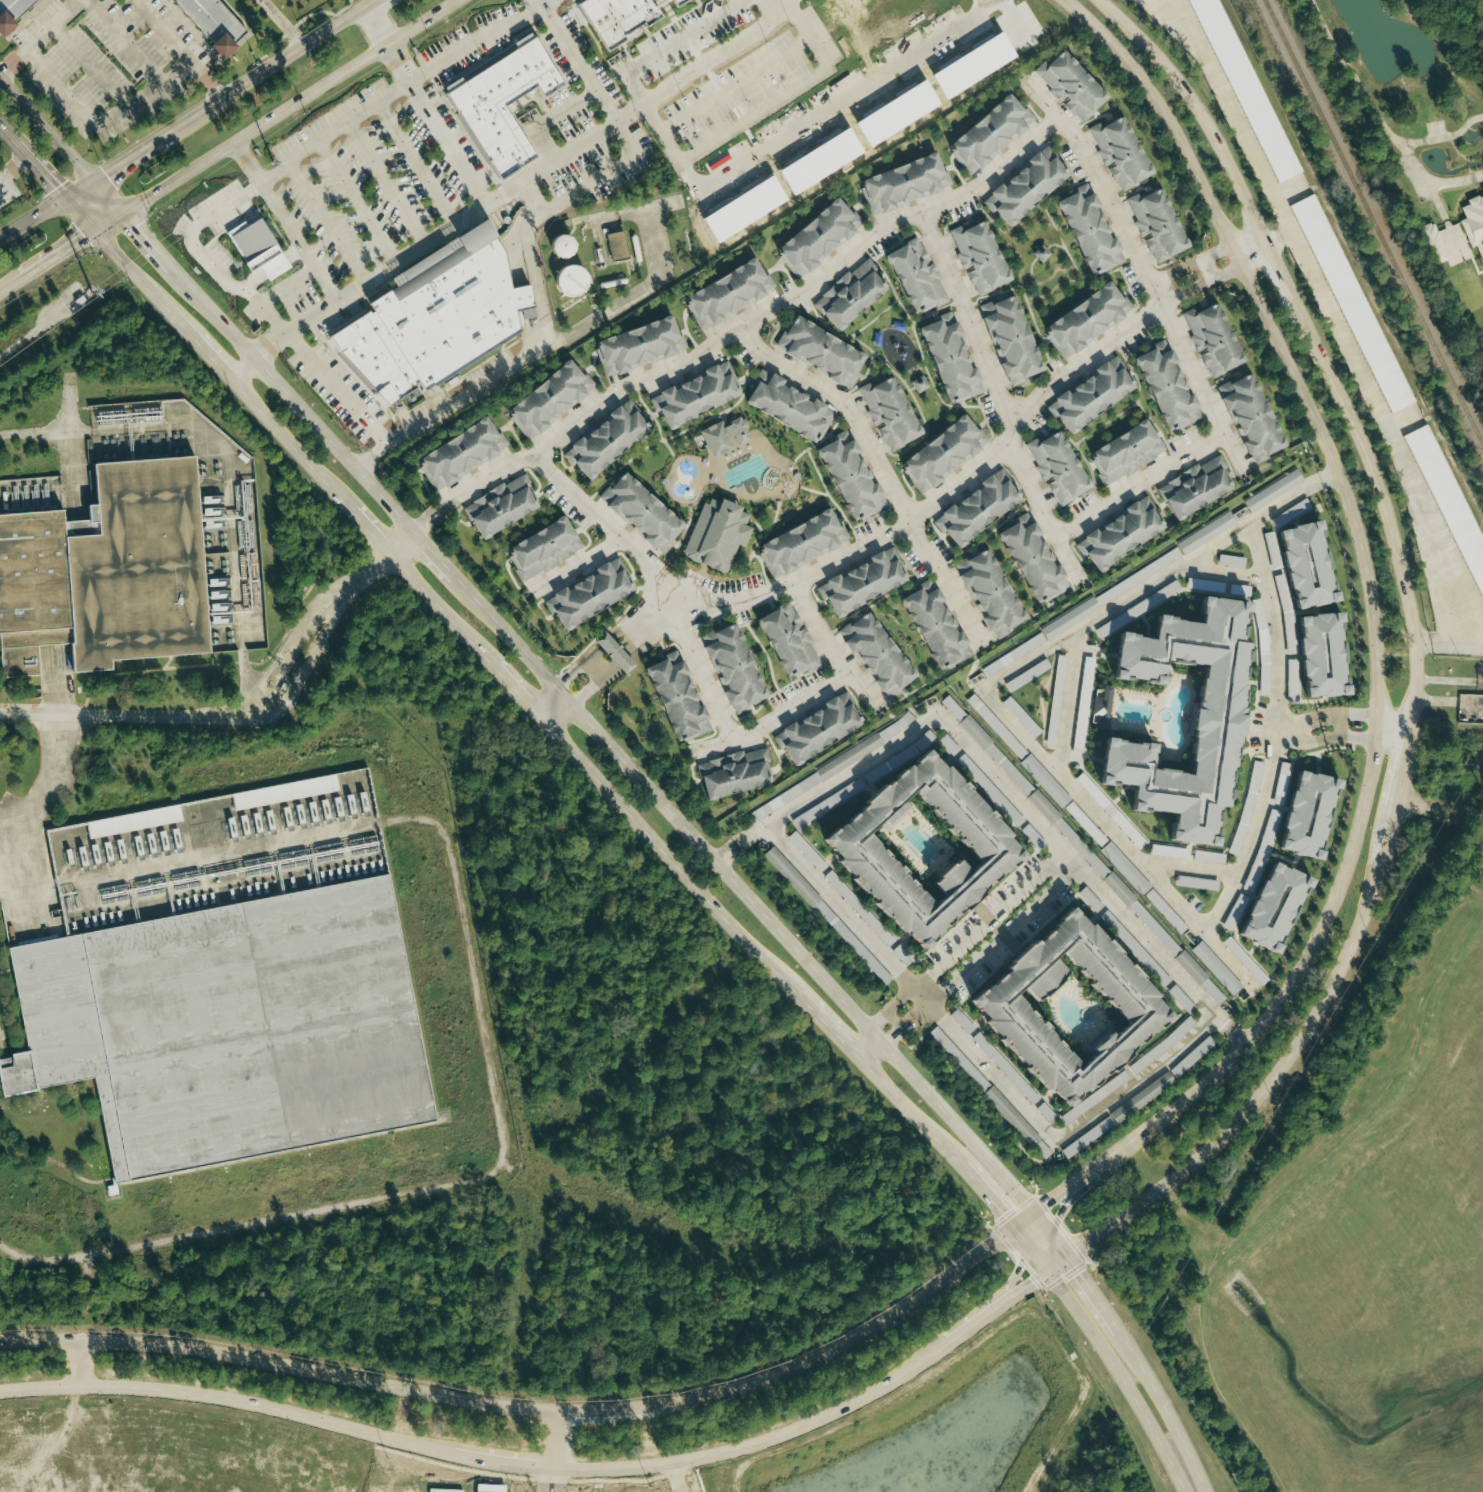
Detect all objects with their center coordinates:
building: (673, 1)
road: (370, 2)
building: (677, 2)
road: (775, 5)
power tower: (516, 7)
building: (10, 8)
building: (209, 18)
building: (610, 19)
road: (377, 22)
road: (38, 35)
road: (669, 43)
road: (181, 47)
road: (579, 60)
road: (264, 70)
road: (737, 81)
building: (1067, 83)
road: (401, 90)
road: (1365, 99)
building: (498, 102)
road: (286, 105)
road: (764, 108)
road: (1234, 112)
road: (439, 121)
road: (101, 128)
road: (45, 131)
building: (987, 132)
road: (7, 137)
building: (1119, 150)
road: (126, 157)
road: (248, 161)
power tower: (272, 163)
road: (419, 164)
road: (38, 172)
traffic signals: (104, 172)
road: (596, 179)
building: (899, 182)
road: (388, 184)
road: (974, 186)
building: (1024, 187)
road: (0, 188)
traffic signals: (53, 188)
road: (77, 189)
building: (1482, 191)
road: (506, 193)
road: (359, 203)
road: (77, 215)
road: (31, 217)
building: (1473, 221)
road: (106, 222)
road: (328, 222)
railway: (1373, 222)
building: (1153, 223)
traffic signals: (133, 227)
building: (1085, 230)
road: (137, 231)
traffic signals: (85, 237)
building: (812, 237)
building: (245, 241)
road: (300, 241)
building: (616, 245)
road: (57, 254)
road: (204, 256)
building: (977, 258)
road: (1227, 260)
building: (913, 278)
building: (568, 279)
road: (11, 283)
road: (632, 290)
building: (723, 293)
power tower: (89, 294)
building: (849, 296)
building: (1353, 303)
building: (1081, 320)
building: (429, 324)
building: (1209, 338)
building: (1008, 342)
building: (631, 346)
building: (815, 350)
building: (946, 360)
building: (920, 384)
road: (476, 387)
building: (1161, 387)
building: (548, 393)
building: (692, 394)
building: (1087, 394)
building: (785, 406)
building: (885, 413)
building: (1248, 423)
road: (59, 434)
building: (725, 436)
building: (600, 439)
road: (1394, 439)
building: (1124, 450)
building: (458, 451)
road: (369, 454)
building: (936, 454)
road: (880, 464)
building: (1055, 468)
road: (70, 470)
building: (846, 478)
road: (483, 479)
building: (1190, 487)
building: (1274, 491)
building: (1450, 499)
road: (924, 503)
building: (498, 505)
building: (635, 510)
building: (970, 511)
building: (1291, 515)
building: (1207, 533)
building: (711, 534)
building: (1115, 536)
building: (797, 542)
building: (539, 549)
building: (1028, 560)
road: (580, 562)
building: (1296, 562)
road: (1364, 570)
building: (107, 572)
road: (1225, 574)
building: (855, 581)
building: (585, 593)
building: (986, 593)
building: (1070, 618)
road: (1275, 622)
building: (931, 625)
building: (785, 641)
road: (833, 646)
building: (613, 653)
building: (1014, 654)
building: (875, 658)
building: (1309, 659)
building: (730, 670)
building: (1086, 686)
road: (583, 693)
road: (1414, 694)
road: (516, 695)
building: (671, 696)
road: (1065, 700)
building: (954, 708)
building: (1102, 708)
road: (265, 710)
building: (1201, 711)
road: (1360, 715)
road: (1305, 717)
road: (1338, 726)
building: (815, 728)
building: (1052, 730)
road: (1394, 731)
road: (1360, 735)
road: (608, 748)
road: (988, 764)
road: (1055, 769)
building: (1011, 771)
building: (729, 775)
building: (284, 792)
road: (36, 795)
building: (1292, 815)
building: (133, 821)
building: (911, 845)
building: (1120, 862)
road: (1193, 869)
building: (1116, 885)
road: (838, 906)
building: (1261, 909)
road: (988, 919)
road: (997, 927)
road: (1003, 935)
road: (1235, 964)
building: (1217, 968)
building: (1056, 1005)
road: (886, 1011)
road: (895, 1020)
building: (228, 1026)
road: (1229, 1027)
road: (904, 1028)
road: (865, 1052)
road: (491, 1068)
building: (1117, 1116)
road: (1052, 1138)
road: (1120, 1149)
traffic signals: (1043, 1207)
road: (1061, 1209)
road: (995, 1212)
traffic signals: (999, 1217)
traffic signals: (1053, 1226)
traffic signals: (1021, 1264)
road: (1020, 1265)
traffic signals: (1075, 1271)
traffic signals: (1033, 1279)
road: (1087, 1289)
road: (82, 1298)
road: (960, 1336)
road: (80, 1360)
road: (1119, 1378)
road: (582, 1402)
road: (1114, 1411)
road: (1172, 1427)
road: (553, 1428)
road: (470, 1442)
road: (544, 1473)
road: (557, 1474)
road: (673, 1474)

